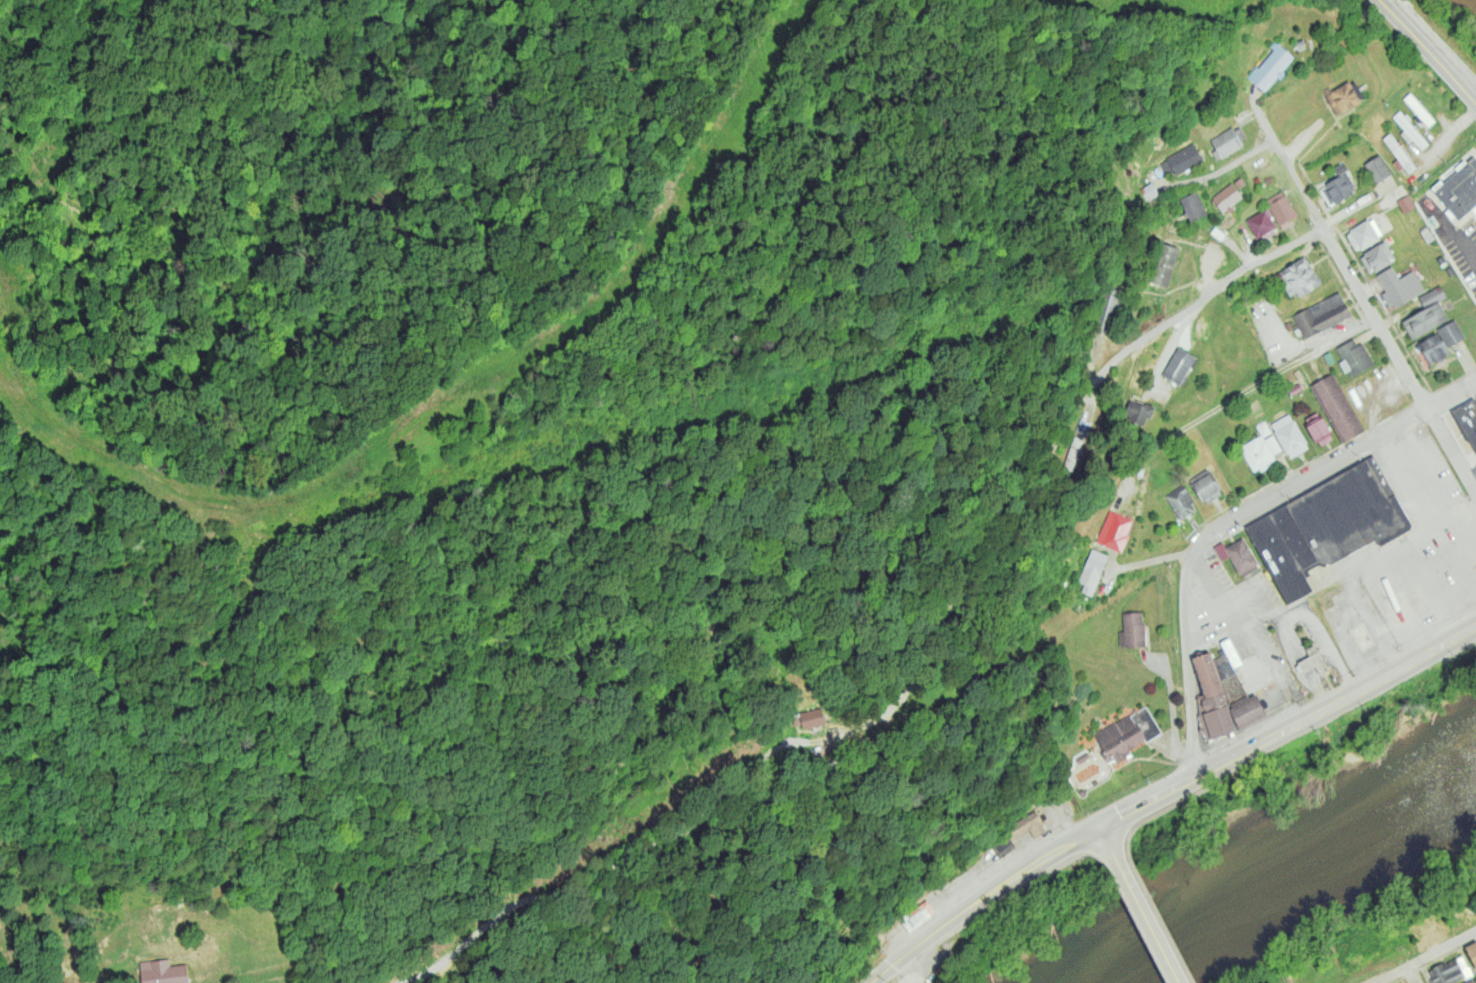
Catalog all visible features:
road: (1394, 16)
building: (1270, 68)
road: (1442, 69)
building: (1431, 95)
building: (1343, 100)
building: (1418, 111)
building: (1409, 131)
road: (1448, 139)
building: (1227, 143)
building: (1398, 154)
building: (1185, 160)
building: (1377, 170)
building: (1239, 184)
building: (1459, 189)
building: (1338, 190)
building: (1148, 191)
building: (1226, 199)
building: (1406, 205)
building: (1193, 208)
building: (1474, 210)
building: (1282, 212)
building: (1260, 224)
road: (1455, 234)
building: (1364, 235)
building: (1427, 236)
road: (1334, 258)
building: (1378, 258)
building: (1440, 260)
building: (1162, 266)
building: (1449, 272)
building: (1300, 279)
building: (1399, 287)
building: (1432, 297)
road: (1192, 308)
building: (1112, 314)
building: (1322, 316)
building: (1424, 321)
building: (1441, 341)
building: (1355, 358)
building: (1179, 366)
road: (1233, 399)
building: (1336, 409)
building: (1138, 411)
building: (1467, 421)
building: (1318, 428)
building: (1288, 436)
building: (1272, 444)
building: (1257, 454)
road: (1449, 456)
road: (1336, 457)
building: (1206, 485)
building: (1181, 500)
building: (1328, 524)
building: (1115, 531)
building: (1238, 555)
building: (1091, 570)
building: (1132, 630)
road: (1184, 655)
building: (1231, 655)
building: (1316, 662)
building: (1213, 701)
road: (1336, 702)
building: (1248, 711)
building: (812, 717)
building: (1127, 736)
road: (815, 773)
road: (1148, 801)
building: (1014, 834)
road: (1105, 835)
river: (1274, 875)
road: (983, 899)
road: (1145, 914)
building: (915, 919)
building: (1428, 936)
building: (1472, 951)
road: (1429, 959)
building: (1451, 971)
building: (162, 972)
road: (1410, 977)
building: (1469, 981)

